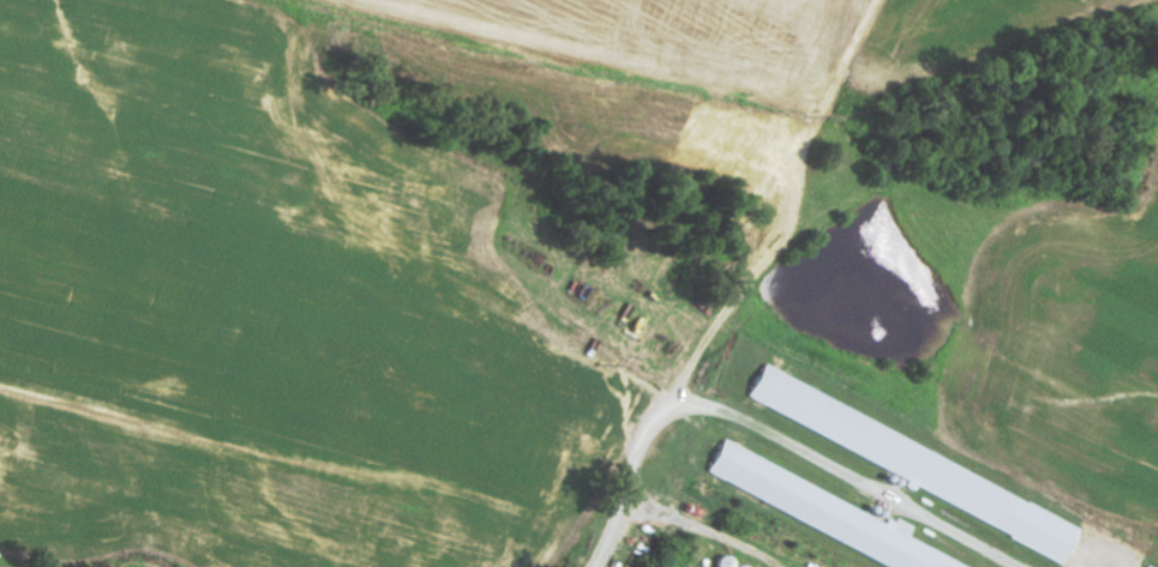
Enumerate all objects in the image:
building: (914, 466)
building: (821, 511)

